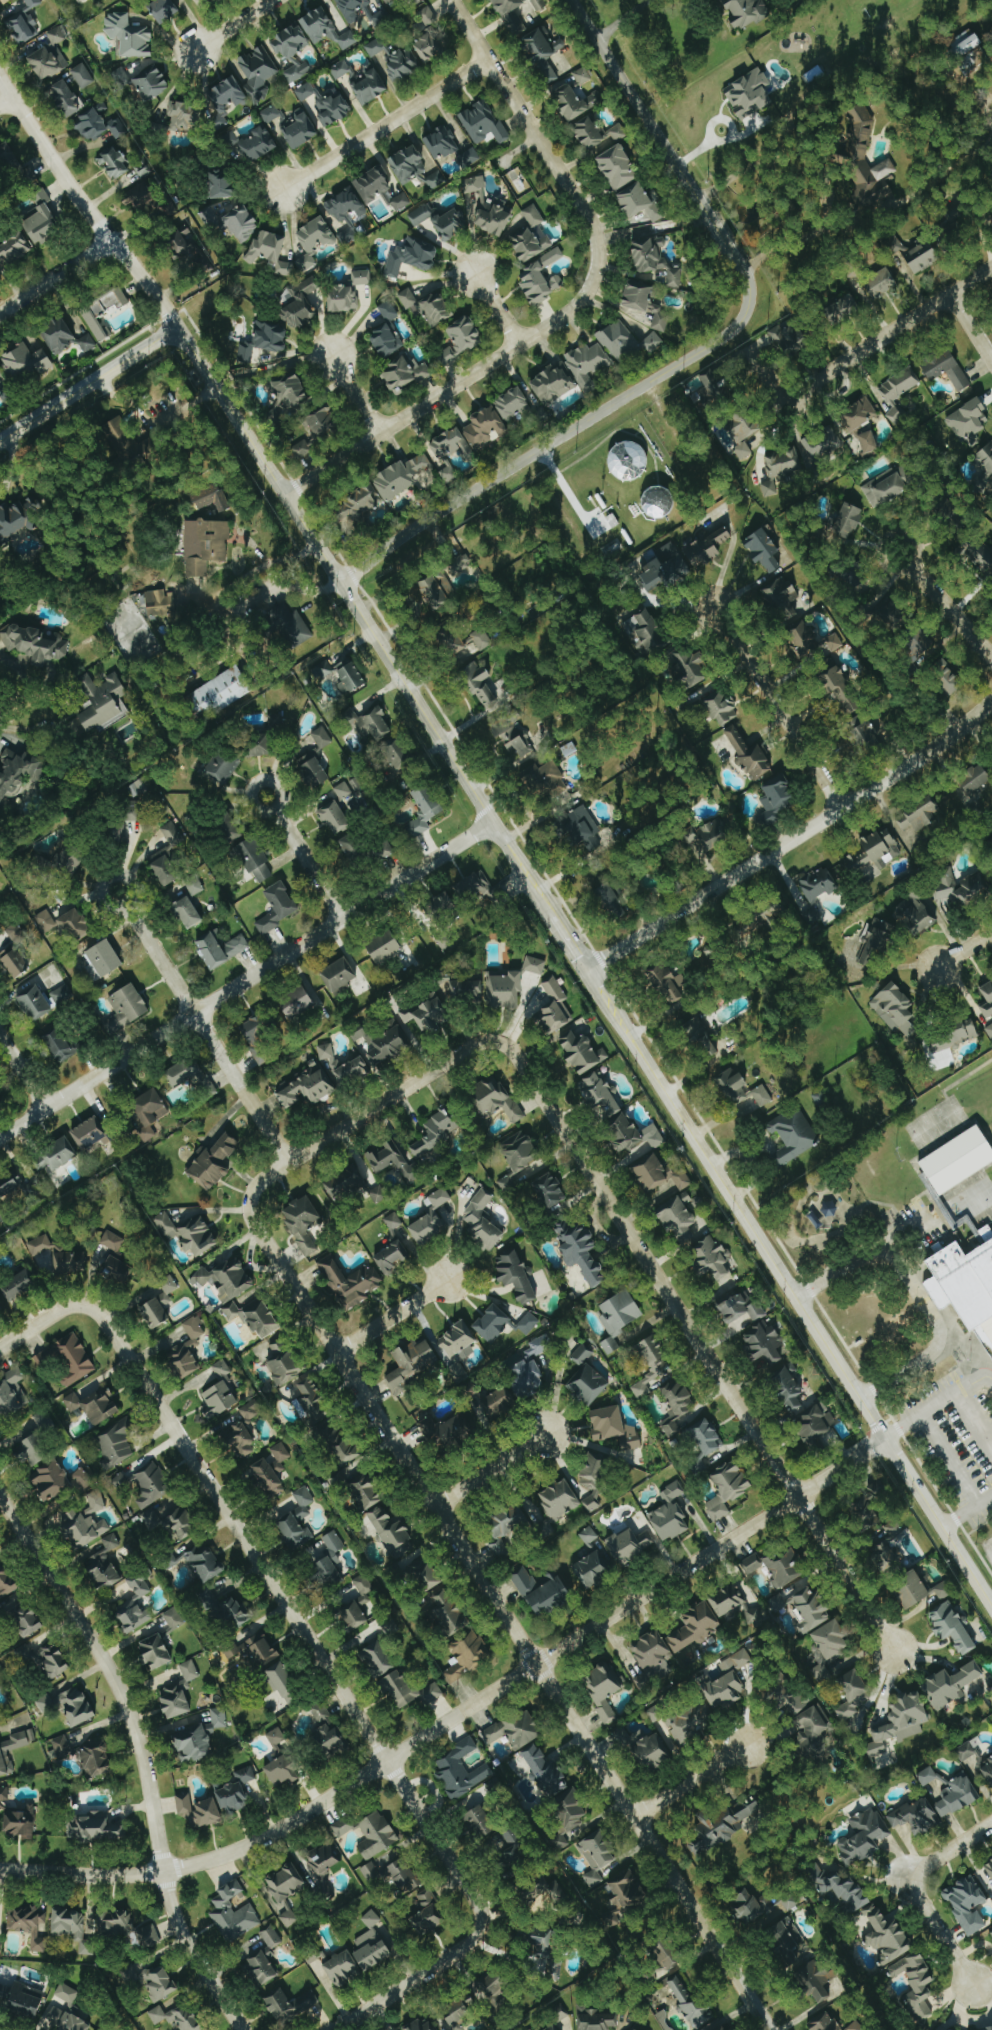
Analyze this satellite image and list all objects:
building: (389, 0)
building: (6, 1)
building: (415, 1)
building: (539, 4)
building: (353, 8)
building: (163, 10)
building: (746, 12)
building: (511, 15)
building: (426, 17)
building: (381, 18)
road: (626, 18)
building: (24, 23)
road: (233, 24)
building: (326, 29)
building: (57, 35)
building: (129, 35)
building: (290, 41)
building: (429, 46)
building: (376, 47)
building: (969, 50)
building: (544, 52)
building: (49, 63)
building: (403, 63)
building: (341, 69)
building: (298, 72)
building: (258, 73)
building: (582, 75)
building: (84, 76)
road: (961, 78)
building: (151, 82)
building: (371, 87)
building: (750, 94)
building: (67, 98)
road: (6, 100)
building: (224, 100)
building: (576, 101)
building: (326, 104)
building: (270, 114)
building: (184, 115)
building: (483, 123)
building: (93, 125)
road: (386, 125)
road: (531, 127)
building: (116, 128)
building: (301, 130)
building: (597, 133)
building: (250, 144)
building: (441, 144)
building: (469, 157)
building: (5, 160)
building: (114, 162)
building: (408, 164)
building: (867, 164)
building: (618, 167)
road: (748, 168)
building: (436, 180)
building: (219, 184)
building: (373, 184)
building: (148, 201)
building: (401, 201)
building: (639, 202)
road: (83, 205)
building: (346, 213)
building: (422, 214)
building: (533, 215)
building: (42, 220)
building: (242, 223)
building: (452, 223)
building: (314, 241)
building: (531, 245)
building: (15, 248)
building: (270, 252)
building: (191, 254)
building: (648, 255)
building: (919, 255)
building: (412, 257)
road: (56, 276)
building: (362, 277)
building: (541, 278)
building: (675, 278)
building: (882, 284)
building: (638, 295)
building: (343, 298)
building: (408, 298)
building: (110, 301)
building: (300, 304)
road: (497, 307)
building: (437, 309)
building: (388, 310)
building: (844, 310)
building: (660, 319)
road: (970, 326)
building: (97, 327)
road: (888, 332)
building: (60, 335)
building: (788, 336)
building: (264, 340)
building: (461, 340)
building: (619, 340)
building: (386, 341)
building: (87, 343)
building: (653, 343)
road: (697, 352)
building: (25, 363)
building: (588, 365)
building: (947, 369)
building: (405, 373)
road: (763, 373)
road: (88, 382)
building: (552, 384)
road: (451, 386)
building: (290, 392)
road: (355, 393)
building: (898, 393)
building: (513, 403)
building: (861, 414)
building: (324, 420)
building: (970, 421)
building: (486, 427)
building: (739, 436)
building: (125, 440)
building: (869, 442)
building: (451, 445)
building: (824, 445)
building: (987, 455)
building: (628, 461)
road: (9, 464)
building: (780, 469)
building: (448, 474)
building: (401, 477)
building: (890, 485)
building: (658, 503)
building: (359, 505)
building: (19, 518)
building: (848, 521)
building: (205, 546)
building: (708, 546)
building: (764, 550)
building: (986, 557)
road: (728, 559)
building: (460, 563)
building: (665, 567)
building: (857, 580)
building: (439, 591)
building: (783, 598)
building: (158, 602)
road: (944, 603)
building: (892, 615)
building: (291, 625)
building: (651, 631)
building: (478, 637)
building: (813, 642)
building: (918, 642)
building: (453, 643)
building: (35, 644)
road: (10, 660)
building: (689, 666)
building: (343, 675)
building: (947, 677)
building: (480, 685)
building: (220, 692)
building: (842, 692)
building: (103, 702)
road: (777, 707)
building: (722, 708)
building: (276, 723)
building: (371, 723)
road: (20, 725)
building: (78, 728)
building: (868, 731)
building: (322, 737)
building: (515, 741)
building: (261, 745)
building: (750, 755)
building: (398, 756)
building: (221, 769)
building: (313, 770)
building: (548, 780)
building: (976, 780)
road: (257, 782)
building: (343, 790)
building: (778, 800)
building: (424, 809)
building: (132, 814)
building: (920, 815)
building: (335, 817)
building: (582, 828)
building: (231, 830)
building: (172, 836)
building: (712, 836)
road: (792, 839)
building: (364, 849)
building: (871, 854)
building: (70, 857)
building: (256, 859)
road: (308, 864)
building: (165, 870)
road: (108, 878)
building: (819, 883)
building: (195, 886)
building: (961, 886)
building: (474, 887)
building: (610, 899)
building: (442, 902)
building: (278, 906)
building: (188, 911)
building: (919, 914)
building: (45, 921)
building: (75, 925)
building: (17, 931)
building: (877, 939)
building: (445, 940)
building: (384, 945)
building: (221, 949)
road: (965, 949)
building: (104, 958)
building: (15, 962)
building: (535, 965)
road: (584, 965)
building: (340, 974)
road: (246, 981)
building: (668, 983)
building: (466, 989)
building: (504, 989)
building: (62, 993)
building: (988, 994)
building: (35, 1002)
building: (297, 1002)
building: (556, 1006)
building: (126, 1008)
building: (896, 1009)
building: (427, 1014)
building: (989, 1030)
road: (205, 1033)
building: (701, 1035)
building: (258, 1036)
building: (954, 1036)
building: (382, 1043)
building: (63, 1045)
building: (582, 1051)
building: (343, 1065)
building: (185, 1071)
road: (22, 1076)
building: (307, 1087)
building: (741, 1091)
building: (600, 1093)
building: (498, 1099)
building: (1, 1105)
building: (150, 1111)
road: (366, 1111)
building: (436, 1131)
building: (94, 1133)
building: (634, 1134)
building: (793, 1134)
building: (57, 1155)
building: (519, 1157)
building: (956, 1158)
building: (214, 1162)
building: (394, 1162)
building: (651, 1172)
building: (682, 1179)
building: (346, 1182)
building: (10, 1183)
building: (549, 1190)
building: (378, 1193)
building: (824, 1214)
building: (678, 1215)
building: (431, 1218)
building: (393, 1222)
building: (303, 1223)
building: (484, 1223)
building: (189, 1233)
building: (113, 1241)
building: (581, 1250)
building: (393, 1256)
building: (56, 1258)
road: (649, 1266)
building: (117, 1268)
building: (515, 1274)
building: (226, 1279)
building: (350, 1282)
building: (18, 1284)
building: (964, 1286)
road: (919, 1290)
building: (160, 1304)
building: (0, 1308)
building: (741, 1308)
road: (392, 1315)
building: (255, 1316)
building: (620, 1317)
road: (42, 1322)
building: (493, 1323)
building: (528, 1323)
building: (457, 1339)
building: (766, 1344)
building: (539, 1347)
building: (189, 1348)
road: (968, 1353)
building: (581, 1355)
building: (67, 1359)
building: (284, 1361)
building: (411, 1363)
building: (653, 1366)
building: (221, 1367)
building: (528, 1379)
building: (588, 1384)
building: (789, 1390)
building: (12, 1393)
building: (219, 1399)
building: (314, 1401)
road: (939, 1402)
building: (677, 1404)
building: (94, 1405)
building: (491, 1406)
building: (251, 1410)
road: (973, 1422)
building: (817, 1424)
building: (615, 1427)
building: (446, 1431)
building: (707, 1436)
building: (241, 1439)
building: (117, 1442)
building: (342, 1444)
building: (34, 1450)
building: (280, 1453)
road: (948, 1460)
road: (490, 1469)
building: (594, 1473)
building: (268, 1478)
building: (82, 1480)
building: (52, 1481)
building: (148, 1485)
building: (728, 1488)
building: (560, 1499)
building: (303, 1502)
building: (95, 1503)
road: (967, 1512)
building: (671, 1514)
building: (170, 1522)
building: (511, 1525)
building: (84, 1527)
building: (894, 1529)
building: (294, 1531)
building: (392, 1532)
building: (590, 1536)
building: (631, 1545)
building: (322, 1554)
building: (886, 1557)
building: (331, 1560)
building: (105, 1564)
building: (206, 1564)
building: (778, 1567)
building: (592, 1570)
building: (425, 1574)
road: (845, 1574)
building: (7, 1582)
building: (364, 1588)
building: (912, 1589)
building: (543, 1591)
building: (728, 1601)
building: (135, 1605)
building: (227, 1608)
building: (811, 1609)
building: (448, 1612)
road: (289, 1613)
building: (22, 1616)
building: (353, 1616)
road: (504, 1616)
building: (174, 1618)
building: (695, 1627)
building: (953, 1627)
building: (832, 1640)
building: (256, 1650)
building: (156, 1652)
building: (468, 1656)
building: (651, 1658)
building: (379, 1659)
building: (50, 1660)
building: (736, 1662)
building: (821, 1673)
building: (284, 1683)
building: (951, 1684)
building: (604, 1689)
building: (409, 1690)
building: (179, 1692)
building: (725, 1692)
building: (852, 1695)
building: (790, 1697)
building: (70, 1706)
building: (321, 1712)
road: (460, 1713)
building: (656, 1713)
building: (218, 1720)
building: (900, 1722)
building: (693, 1723)
building: (516, 1730)
building: (814, 1732)
building: (276, 1736)
building: (330, 1739)
building: (193, 1744)
building: (60, 1749)
building: (967, 1751)
building: (653, 1753)
road: (140, 1754)
building: (6, 1761)
building: (97, 1761)
building: (283, 1770)
building: (461, 1770)
building: (546, 1771)
building: (988, 1771)
building: (927, 1776)
road: (690, 1783)
building: (236, 1792)
building: (4, 1795)
building: (957, 1797)
building: (199, 1809)
building: (571, 1809)
building: (916, 1816)
building: (20, 1822)
building: (480, 1822)
building: (725, 1824)
building: (95, 1828)
building: (369, 1833)
building: (864, 1836)
building: (562, 1842)
building: (598, 1856)
building: (324, 1860)
building: (990, 1868)
building: (370, 1870)
building: (404, 1876)
building: (286, 1882)
road: (912, 1887)
building: (627, 1891)
building: (790, 1901)
building: (968, 1904)
building: (752, 1907)
building: (233, 1914)
building: (427, 1914)
building: (877, 1916)
building: (289, 1918)
building: (371, 1919)
building: (28, 1925)
building: (73, 1928)
building: (128, 1928)
building: (991, 1932)
building: (271, 1937)
building: (785, 1942)
building: (0, 1946)
building: (372, 1949)
building: (546, 1949)
building: (670, 1955)
building: (263, 1968)
building: (343, 1969)
road: (413, 1979)
building: (816, 1980)
building: (153, 1981)
building: (917, 1983)
building: (494, 1987)
building: (5, 1994)
building: (67, 1994)
building: (690, 2000)
building: (27, 2001)
building: (289, 2005)
building: (457, 2014)
building: (178, 2017)
building: (596, 2019)
building: (67, 2020)
building: (825, 2022)
building: (420, 2026)
building: (855, 2026)
building: (551, 2028)
building: (721, 2028)
building: (636, 2029)
building: (989, 2029)

